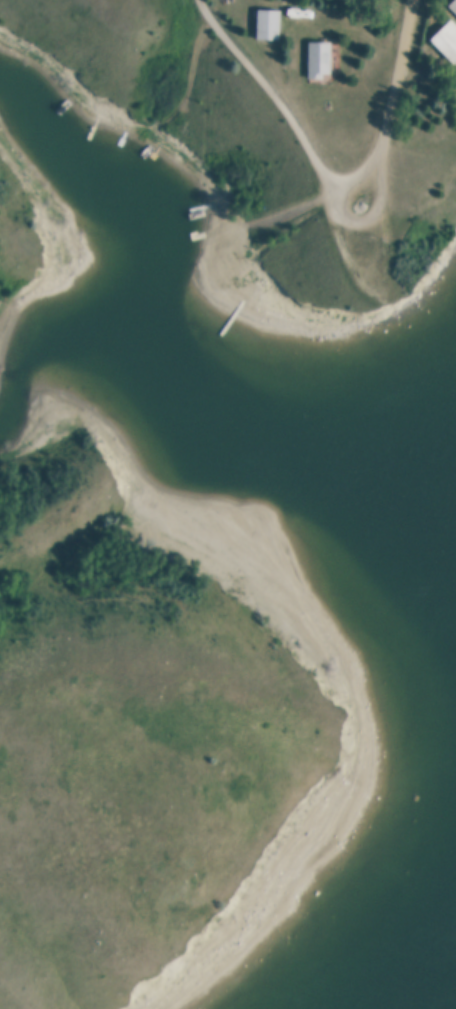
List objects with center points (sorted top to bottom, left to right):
building: (454, 4)
building: (269, 24)
road: (410, 34)
building: (448, 37)
building: (321, 58)
road: (332, 184)

